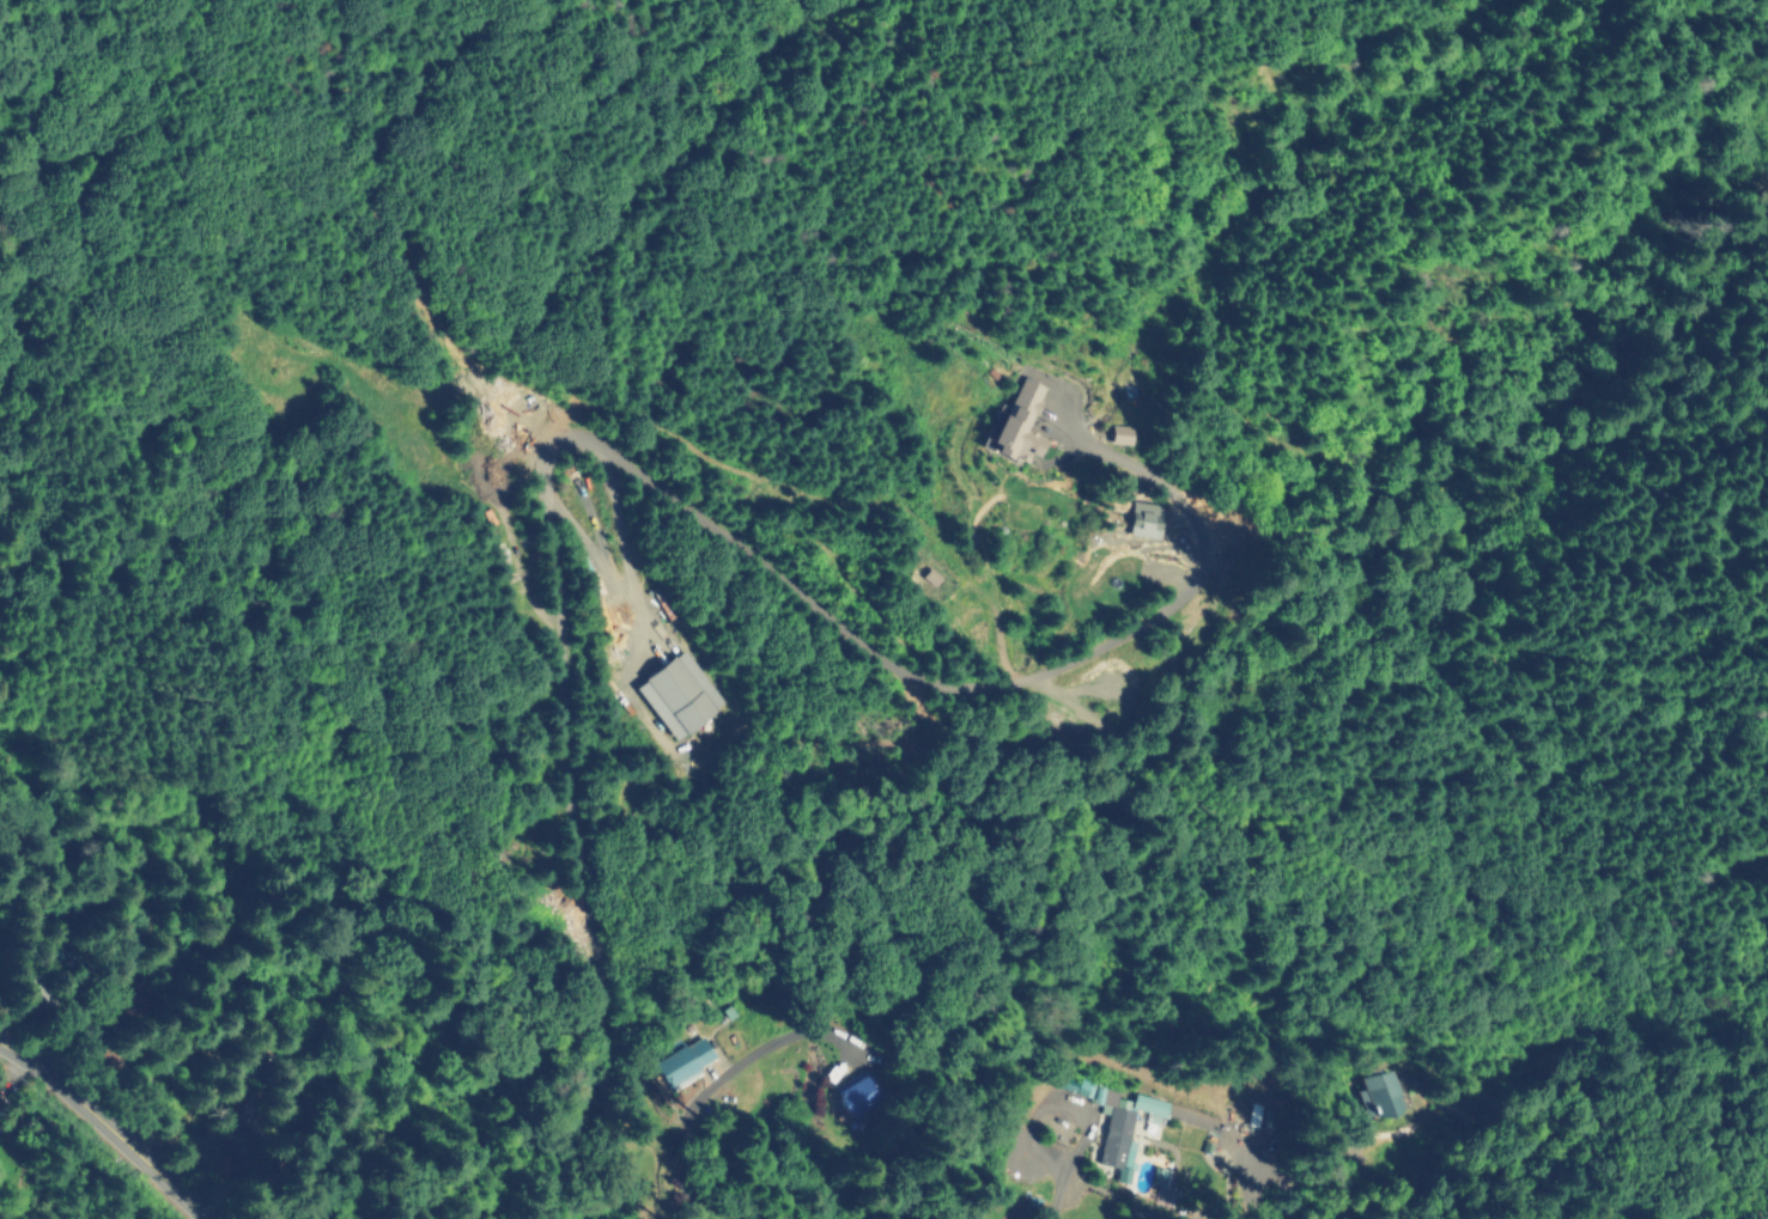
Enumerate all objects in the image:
building: (1020, 423)
building: (1120, 433)
road: (555, 443)
road: (1476, 481)
building: (1430, 494)
building: (1144, 518)
road: (1201, 571)
building: (931, 577)
road: (625, 581)
road: (803, 605)
road: (1402, 609)
building: (1415, 627)
parking lot: (1104, 684)
road: (1051, 687)
road: (1313, 691)
building: (679, 694)
road: (565, 720)
road: (1104, 726)
road: (1135, 782)
building: (133, 992)
road: (808, 1028)
building: (679, 1062)
road: (581, 1091)
building: (1379, 1093)
building: (855, 1095)
building: (1116, 1121)
road: (104, 1129)
building: (238, 1141)
building: (1160, 1176)
road: (1062, 1183)

